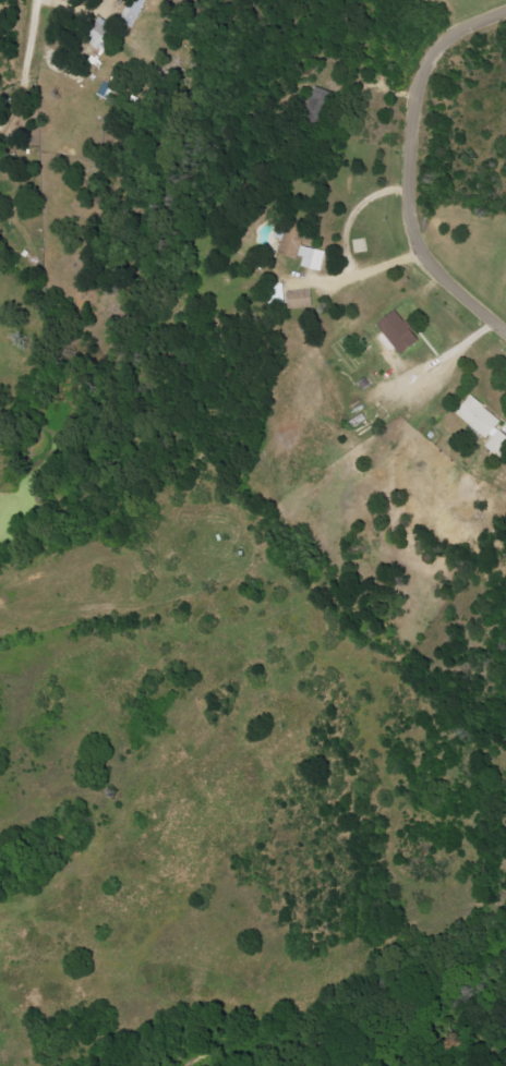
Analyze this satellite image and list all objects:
building: (133, 12)
road: (32, 29)
building: (99, 34)
road: (417, 162)
road: (357, 215)
building: (299, 245)
road: (377, 272)
building: (278, 293)
building: (300, 299)
building: (400, 331)
building: (480, 415)
building: (497, 440)

